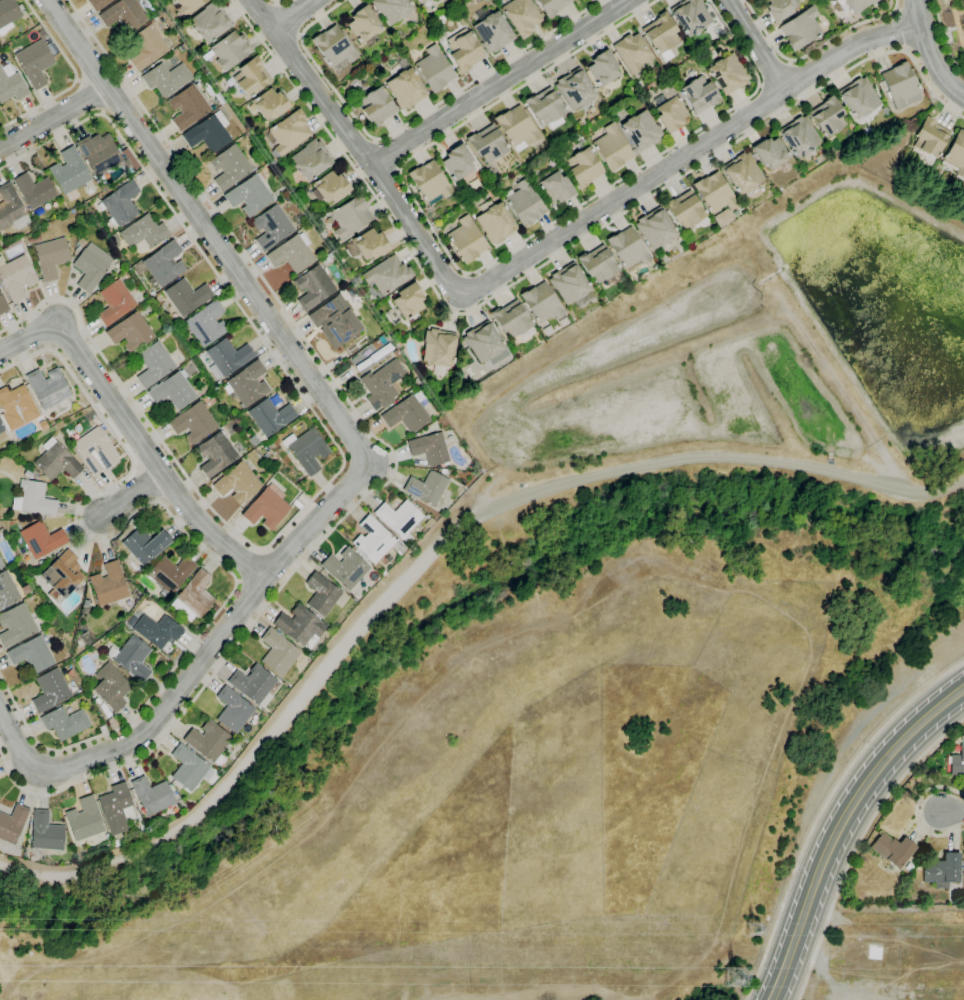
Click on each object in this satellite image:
building: (436, 0)
building: (437, 0)
road: (276, 1)
building: (420, 2)
building: (963, 3)
building: (98, 4)
building: (854, 4)
building: (187, 6)
building: (551, 6)
building: (779, 8)
building: (391, 9)
building: (845, 13)
building: (8, 14)
road: (293, 14)
building: (123, 15)
building: (521, 16)
building: (690, 16)
road: (288, 19)
building: (210, 22)
road: (957, 22)
building: (362, 25)
building: (800, 29)
road: (901, 29)
park: (953, 29)
building: (491, 30)
building: (661, 35)
road: (944, 38)
road: (963, 39)
road: (755, 44)
building: (147, 47)
building: (182, 47)
building: (334, 49)
building: (230, 50)
road: (813, 50)
road: (931, 51)
building: (464, 52)
building: (632, 53)
building: (36, 61)
building: (377, 68)
building: (602, 68)
building: (7, 69)
building: (433, 69)
road: (774, 73)
building: (727, 74)
road: (75, 77)
building: (250, 77)
building: (165, 78)
road: (312, 81)
road: (501, 81)
road: (527, 83)
building: (900, 86)
building: (12, 87)
building: (405, 89)
building: (574, 89)
building: (699, 95)
building: (859, 100)
building: (270, 104)
building: (188, 106)
building: (375, 107)
building: (545, 108)
building: (670, 114)
building: (827, 117)
road: (53, 118)
road: (410, 121)
building: (911, 122)
building: (516, 128)
building: (640, 131)
building: (866, 131)
building: (209, 132)
building: (288, 132)
building: (798, 136)
building: (929, 140)
building: (486, 144)
building: (611, 148)
building: (769, 153)
building: (99, 154)
road: (386, 154)
building: (955, 155)
road: (656, 157)
building: (310, 159)
building: (457, 162)
building: (133, 164)
building: (230, 167)
building: (583, 167)
building: (69, 172)
building: (488, 174)
building: (742, 175)
building: (429, 182)
building: (103, 187)
road: (199, 187)
building: (330, 187)
building: (554, 188)
building: (34, 190)
building: (97, 190)
building: (714, 193)
building: (250, 194)
road: (618, 196)
building: (523, 203)
building: (120, 204)
building: (11, 209)
building: (684, 210)
building: (349, 216)
building: (721, 217)
building: (298, 219)
building: (494, 222)
road: (427, 224)
building: (271, 227)
building: (655, 230)
road: (205, 231)
building: (144, 233)
building: (115, 239)
building: (466, 240)
building: (81, 241)
building: (367, 245)
building: (628, 249)
building: (292, 252)
building: (50, 255)
road: (554, 258)
building: (325, 259)
building: (162, 264)
building: (599, 265)
building: (91, 266)
building: (387, 274)
building: (16, 277)
building: (354, 280)
building: (570, 286)
building: (313, 287)
building: (186, 296)
building: (115, 302)
building: (407, 302)
building: (541, 303)
building: (3, 305)
building: (512, 320)
building: (335, 321)
building: (563, 321)
building: (206, 323)
building: (376, 331)
building: (546, 331)
building: (130, 332)
building: (168, 339)
building: (374, 343)
building: (484, 343)
building: (398, 344)
building: (438, 350)
building: (396, 352)
building: (227, 357)
building: (153, 364)
building: (383, 383)
building: (247, 384)
building: (48, 387)
building: (173, 390)
building: (277, 402)
building: (16, 407)
building: (406, 413)
building: (270, 416)
building: (236, 420)
building: (193, 422)
building: (42, 425)
building: (2, 432)
road: (133, 432)
building: (253, 440)
building: (306, 449)
building: (429, 449)
building: (266, 450)
building: (95, 451)
road: (341, 452)
building: (217, 453)
building: (57, 460)
building: (23, 469)
building: (443, 471)
building: (88, 477)
building: (237, 482)
building: (426, 487)
road: (132, 497)
building: (33, 499)
building: (297, 504)
building: (266, 509)
building: (399, 518)
building: (428, 523)
road: (183, 528)
building: (41, 539)
building: (376, 540)
building: (145, 545)
road: (430, 555)
building: (1, 564)
road: (249, 565)
building: (346, 567)
building: (63, 574)
building: (170, 574)
building: (109, 585)
building: (7, 590)
building: (322, 593)
building: (193, 597)
building: (86, 604)
road: (572, 617)
building: (16, 625)
building: (301, 626)
building: (157, 630)
road: (247, 631)
road: (217, 637)
building: (279, 652)
building: (31, 654)
building: (132, 658)
building: (254, 684)
building: (111, 687)
building: (50, 690)
building: (72, 707)
building: (233, 710)
building: (65, 722)
building: (102, 729)
building: (209, 742)
road: (18, 743)
building: (957, 761)
building: (189, 768)
building: (153, 796)
building: (117, 806)
road: (823, 810)
road: (953, 810)
road: (916, 811)
building: (85, 819)
building: (13, 823)
road: (839, 828)
building: (46, 832)
building: (115, 843)
road: (858, 845)
building: (890, 851)
building: (919, 866)
building: (909, 867)
building: (942, 870)
power tower: (756, 925)
power tower: (738, 973)
road: (548, 992)

